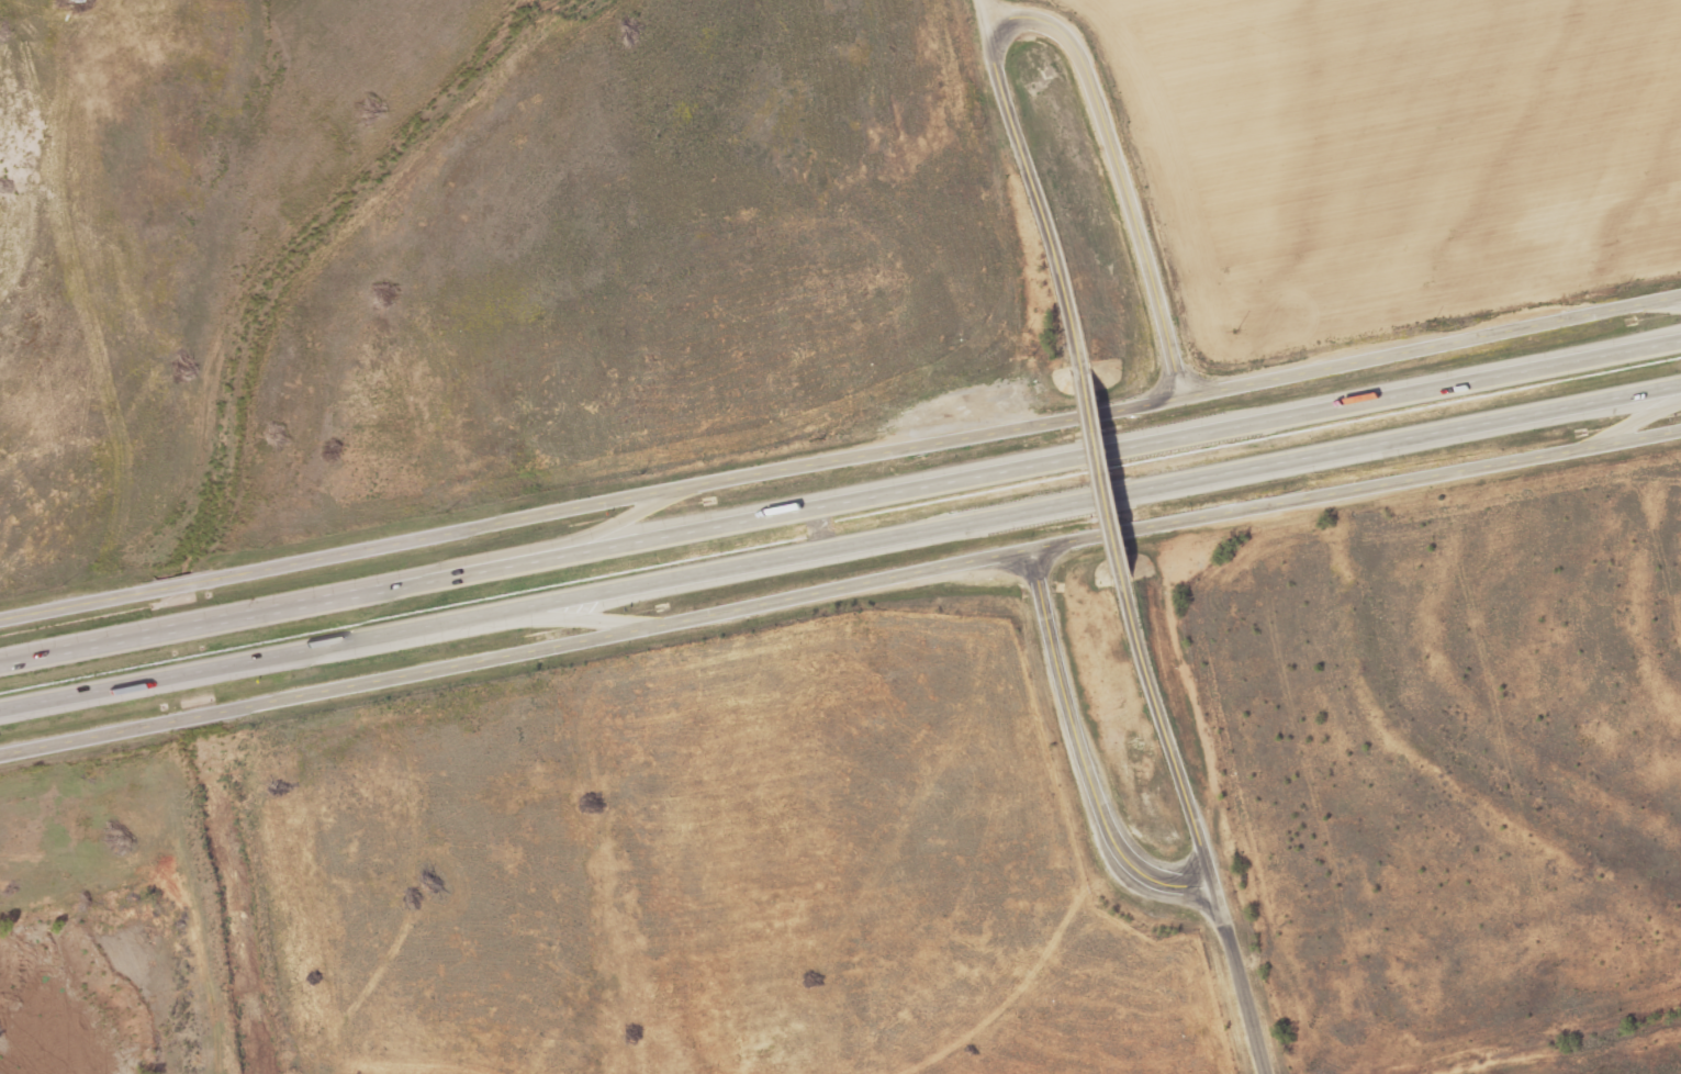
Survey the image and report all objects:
building: (75, 1)
road: (985, 14)
road: (1122, 167)
road: (1040, 197)
road: (1667, 302)
road: (1629, 422)
road: (841, 460)
road: (1111, 472)
road: (840, 499)
road: (840, 547)
road: (522, 550)
road: (841, 596)
road: (436, 634)
road: (1084, 756)
road: (1196, 827)

